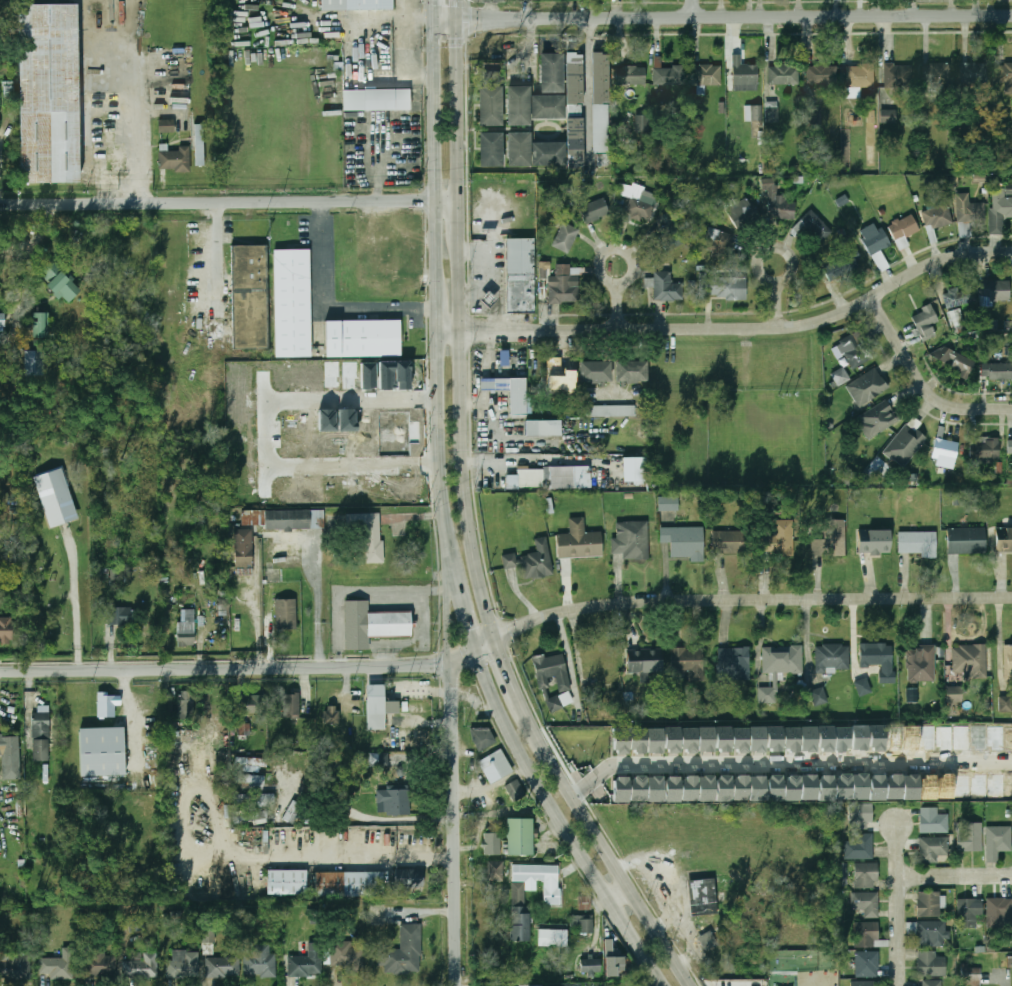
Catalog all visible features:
road: (814, 1)
building: (358, 2)
road: (435, 8)
road: (617, 8)
road: (695, 9)
road: (420, 14)
traffic signals: (422, 15)
road: (723, 18)
traffic signals: (472, 20)
road: (405, 36)
traffic signals: (460, 46)
building: (552, 67)
road: (585, 68)
building: (975, 73)
building: (1005, 73)
building: (707, 74)
building: (783, 74)
building: (822, 74)
building: (936, 74)
road: (421, 75)
building: (632, 75)
building: (670, 75)
building: (744, 75)
building: (860, 75)
building: (897, 75)
building: (48, 93)
building: (377, 93)
road: (460, 96)
building: (490, 100)
building: (519, 100)
building: (549, 100)
building: (575, 104)
building: (601, 107)
building: (772, 111)
building: (753, 113)
building: (888, 116)
building: (643, 122)
building: (165, 125)
road: (136, 126)
building: (491, 143)
building: (520, 144)
building: (198, 146)
road: (436, 148)
building: (549, 148)
building: (174, 159)
road: (376, 168)
road: (230, 197)
building: (778, 203)
building: (640, 206)
building: (999, 209)
building: (595, 211)
building: (740, 212)
building: (972, 212)
building: (938, 216)
road: (462, 218)
building: (816, 225)
building: (904, 227)
building: (670, 234)
building: (565, 237)
building: (720, 237)
building: (873, 238)
road: (773, 247)
road: (613, 249)
road: (215, 254)
building: (841, 265)
road: (495, 270)
building: (520, 270)
road: (480, 283)
building: (666, 287)
building: (723, 288)
building: (563, 289)
building: (995, 291)
building: (488, 294)
building: (248, 295)
building: (957, 296)
building: (290, 302)
road: (438, 304)
road: (776, 305)
road: (615, 306)
road: (322, 309)
building: (956, 321)
building: (926, 323)
building: (40, 324)
building: (1, 325)
road: (733, 328)
building: (364, 333)
building: (854, 351)
building: (502, 356)
building: (957, 361)
building: (34, 362)
building: (595, 371)
building: (631, 371)
building: (997, 371)
building: (554, 374)
building: (841, 376)
building: (867, 386)
road: (922, 386)
building: (515, 402)
building: (611, 410)
building: (878, 419)
building: (541, 427)
road: (267, 434)
road: (466, 441)
building: (905, 445)
building: (1010, 445)
building: (985, 448)
road: (439, 449)
building: (945, 453)
building: (634, 470)
building: (564, 475)
building: (523, 477)
building: (55, 497)
building: (668, 504)
building: (283, 518)
building: (368, 533)
building: (830, 538)
building: (631, 539)
building: (783, 539)
building: (966, 540)
building: (1004, 540)
building: (579, 541)
building: (684, 542)
building: (731, 542)
building: (874, 542)
building: (917, 543)
building: (242, 547)
building: (533, 561)
road: (356, 590)
road: (75, 598)
road: (750, 602)
road: (318, 603)
road: (462, 607)
building: (283, 613)
road: (448, 615)
building: (118, 616)
building: (369, 624)
building: (7, 630)
building: (186, 632)
traffic signals: (469, 632)
traffic signals: (505, 633)
road: (413, 640)
traffic signals: (456, 656)
building: (783, 659)
building: (832, 659)
building: (879, 659)
building: (1008, 659)
building: (970, 660)
building: (645, 661)
traffic signals: (502, 662)
building: (687, 662)
building: (734, 664)
building: (920, 664)
building: (605, 668)
road: (250, 670)
road: (505, 671)
building: (551, 671)
building: (862, 687)
building: (912, 695)
building: (954, 695)
building: (816, 697)
building: (555, 703)
building: (1005, 703)
building: (256, 704)
building: (186, 705)
building: (376, 705)
building: (109, 706)
building: (291, 707)
building: (331, 715)
building: (40, 736)
building: (858, 737)
building: (774, 738)
building: (808, 738)
building: (825, 738)
building: (841, 738)
building: (876, 738)
building: (910, 738)
building: (927, 738)
building: (483, 739)
building: (671, 739)
building: (688, 739)
building: (705, 739)
building: (722, 739)
building: (739, 739)
building: (757, 739)
building: (791, 739)
building: (893, 739)
building: (944, 739)
building: (637, 740)
building: (654, 740)
building: (620, 741)
building: (101, 751)
building: (10, 756)
building: (381, 760)
building: (251, 761)
road: (786, 762)
building: (495, 765)
building: (251, 780)
building: (842, 786)
building: (859, 786)
building: (808, 787)
building: (893, 787)
building: (928, 787)
building: (944, 787)
building: (962, 787)
building: (688, 788)
building: (705, 788)
building: (723, 788)
building: (740, 788)
building: (773, 788)
building: (791, 788)
building: (825, 788)
building: (876, 788)
building: (910, 788)
building: (637, 789)
building: (654, 789)
building: (672, 789)
building: (757, 789)
building: (620, 790)
building: (515, 791)
building: (254, 798)
building: (391, 799)
building: (293, 812)
building: (858, 815)
building: (251, 817)
road: (560, 819)
road: (398, 820)
building: (933, 820)
road: (455, 823)
building: (519, 836)
building: (969, 836)
building: (997, 840)
building: (492, 844)
road: (604, 846)
building: (858, 846)
building: (934, 850)
road: (368, 855)
building: (495, 871)
building: (866, 875)
road: (956, 876)
building: (405, 877)
building: (541, 879)
building: (284, 881)
building: (346, 881)
building: (698, 891)
road: (623, 899)
building: (866, 903)
building: (929, 904)
road: (900, 906)
building: (999, 909)
building: (969, 912)
building: (520, 913)
building: (581, 925)
building: (929, 932)
building: (866, 934)
building: (208, 935)
building: (552, 938)
building: (707, 940)
building: (404, 953)
building: (347, 956)
building: (613, 959)
building: (260, 961)
building: (307, 962)
building: (99, 963)
building: (867, 963)
building: (186, 964)
building: (931, 964)
building: (15, 966)
building: (57, 966)
building: (142, 966)
building: (590, 966)
building: (222, 967)
building: (971, 975)
building: (865, 983)
building: (930, 983)
road: (1009, 984)
building: (536, 985)

